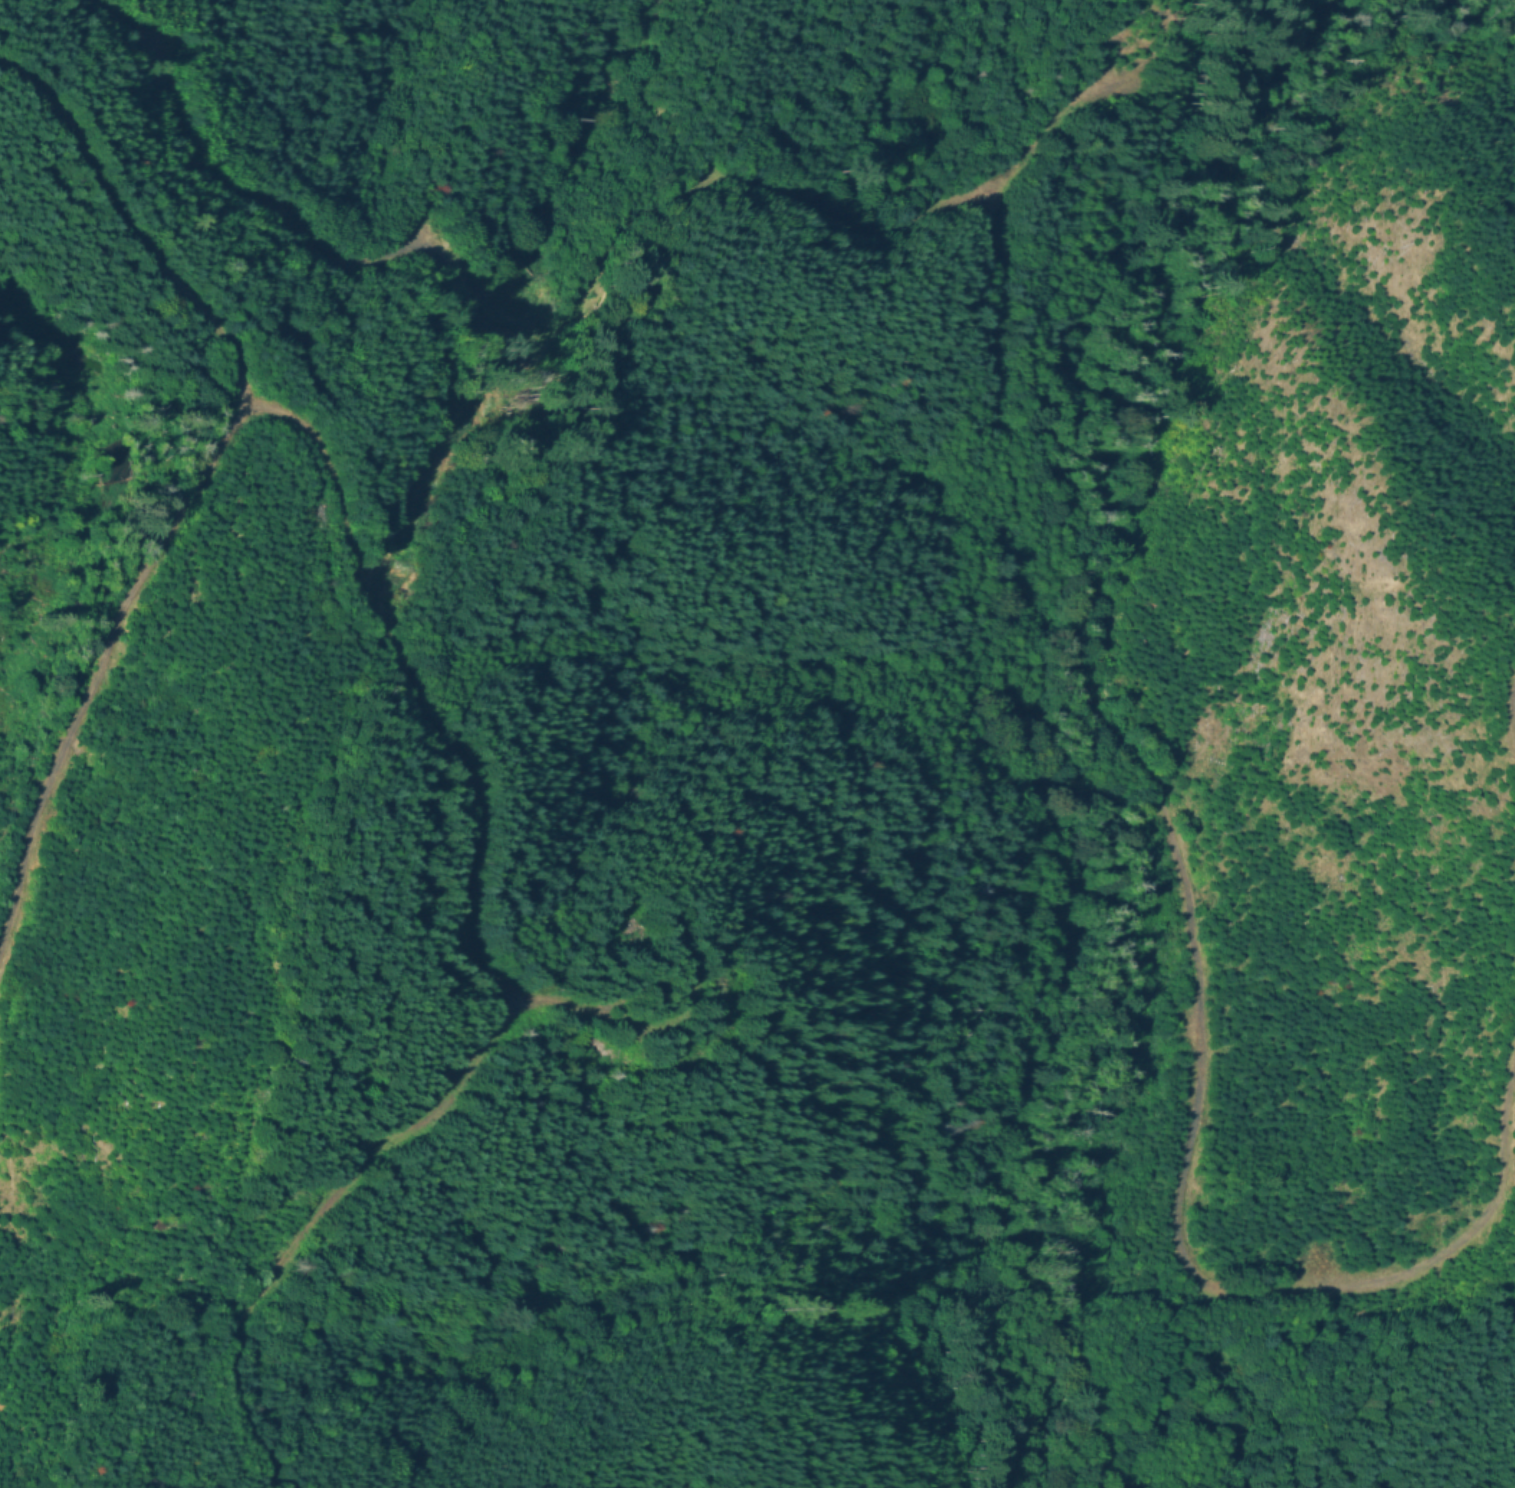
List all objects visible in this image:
road: (568, 314)
road: (199, 481)
road: (1510, 714)
road: (464, 770)
road: (1190, 947)
road: (311, 1220)

